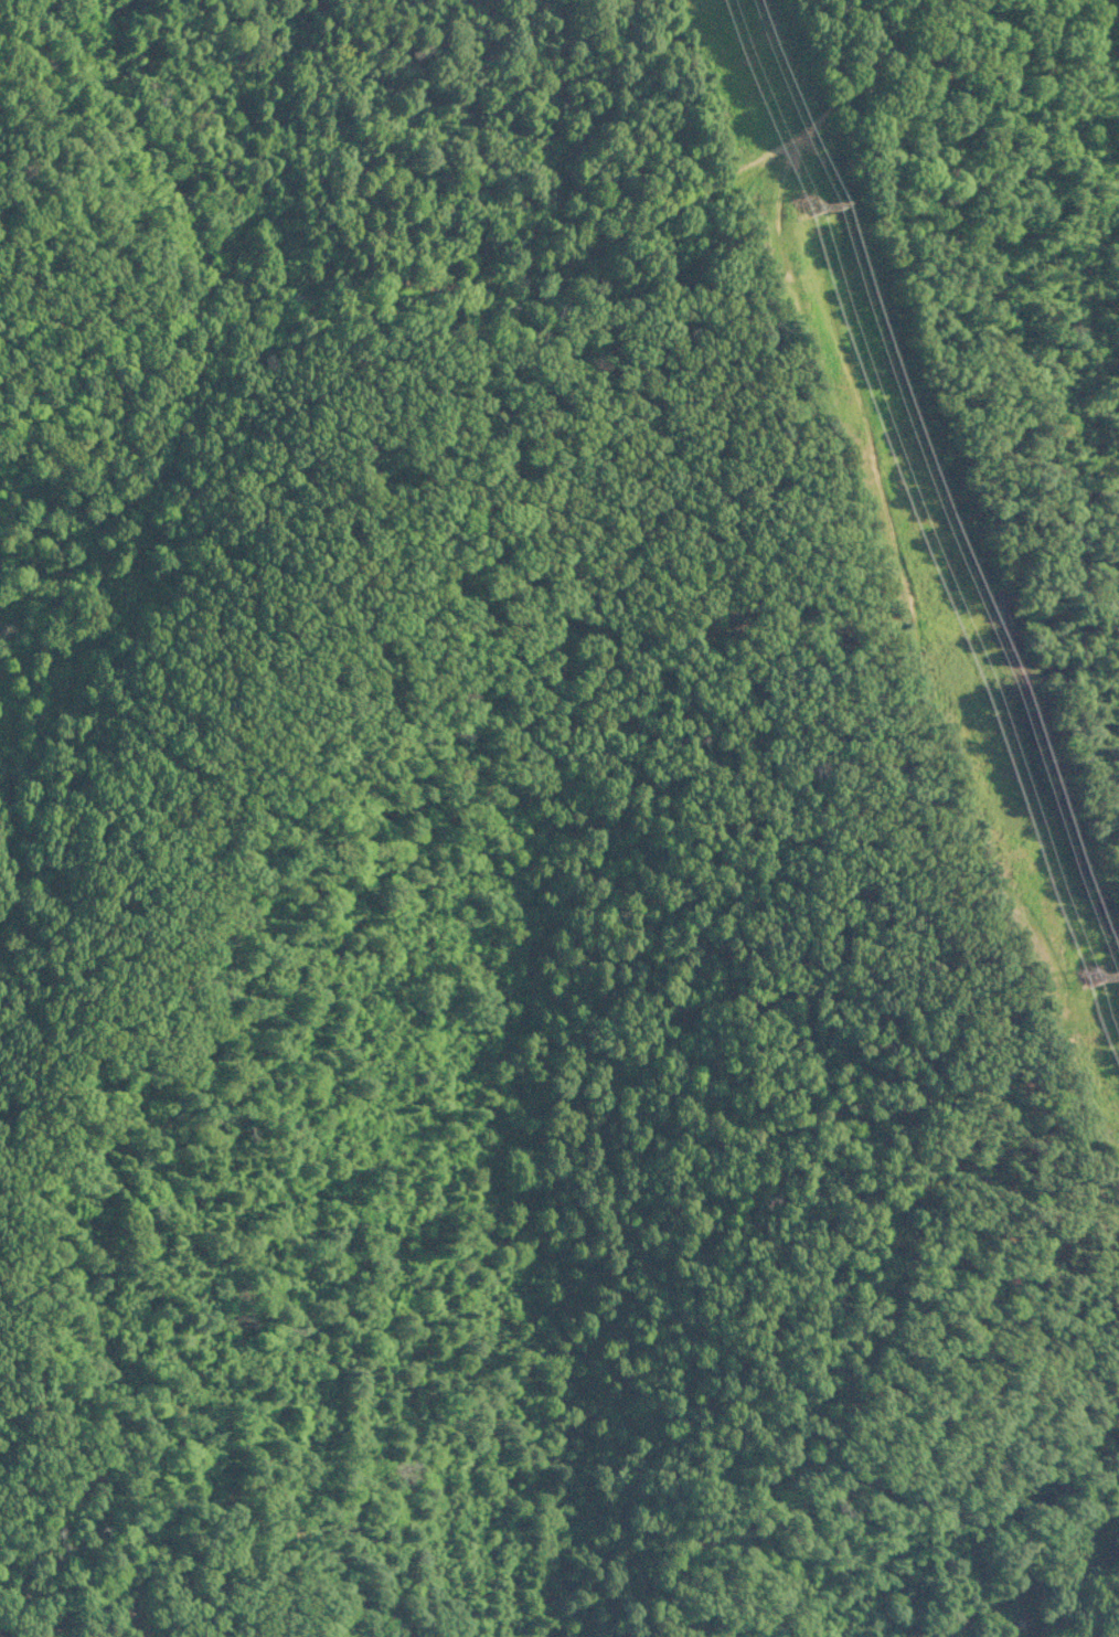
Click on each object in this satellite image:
road: (1066, 1572)

